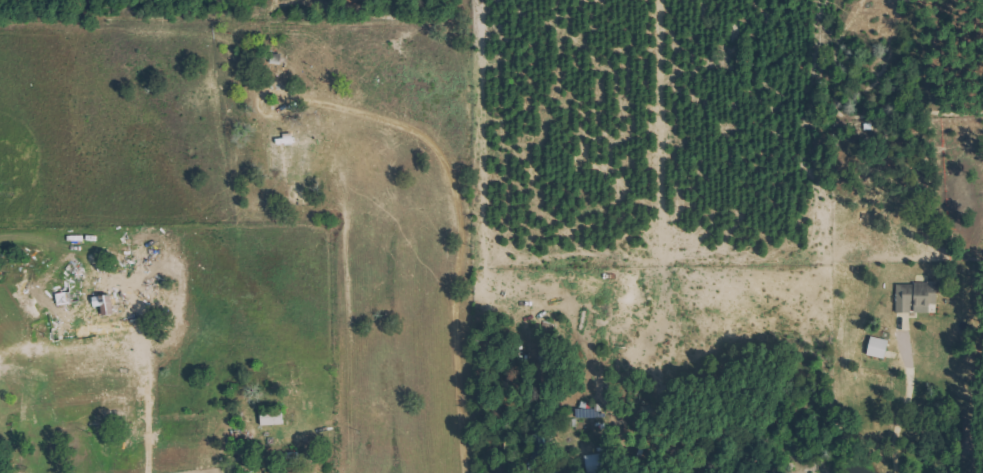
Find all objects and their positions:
building: (919, 296)
building: (881, 347)

